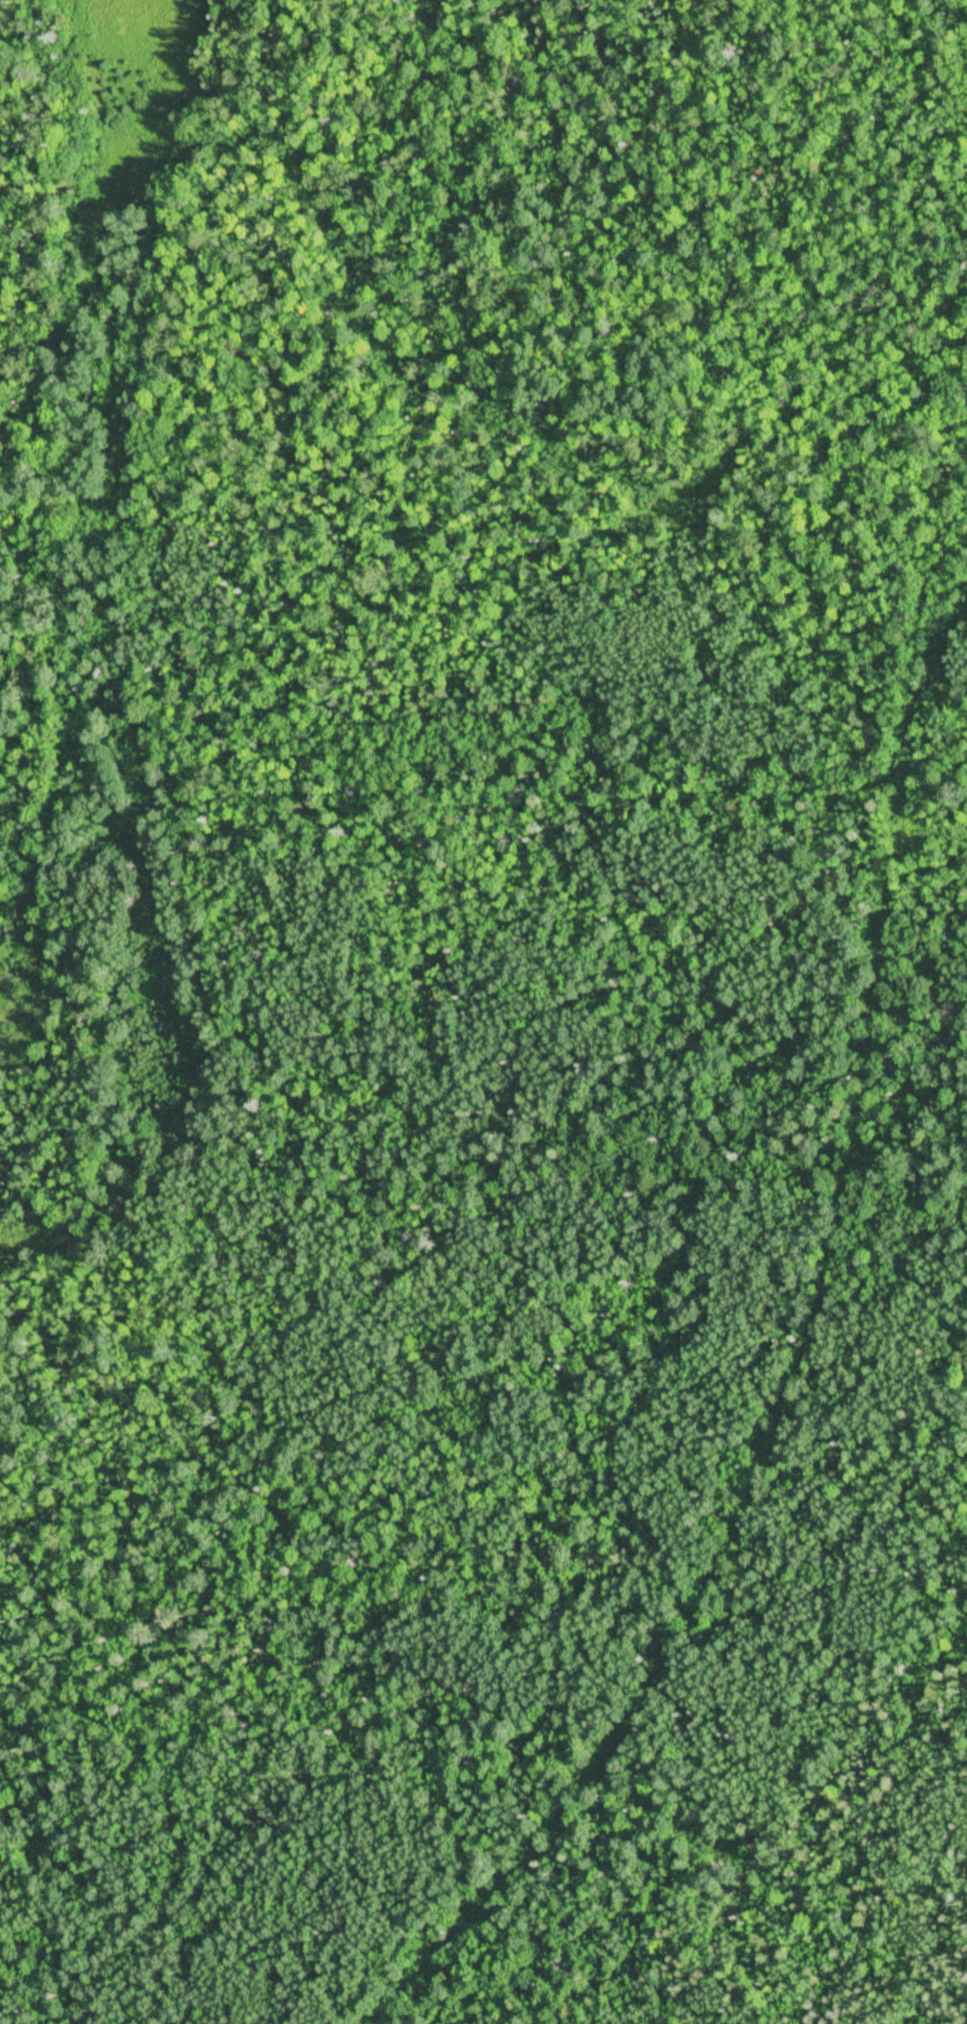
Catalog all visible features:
road: (794, 1385)

